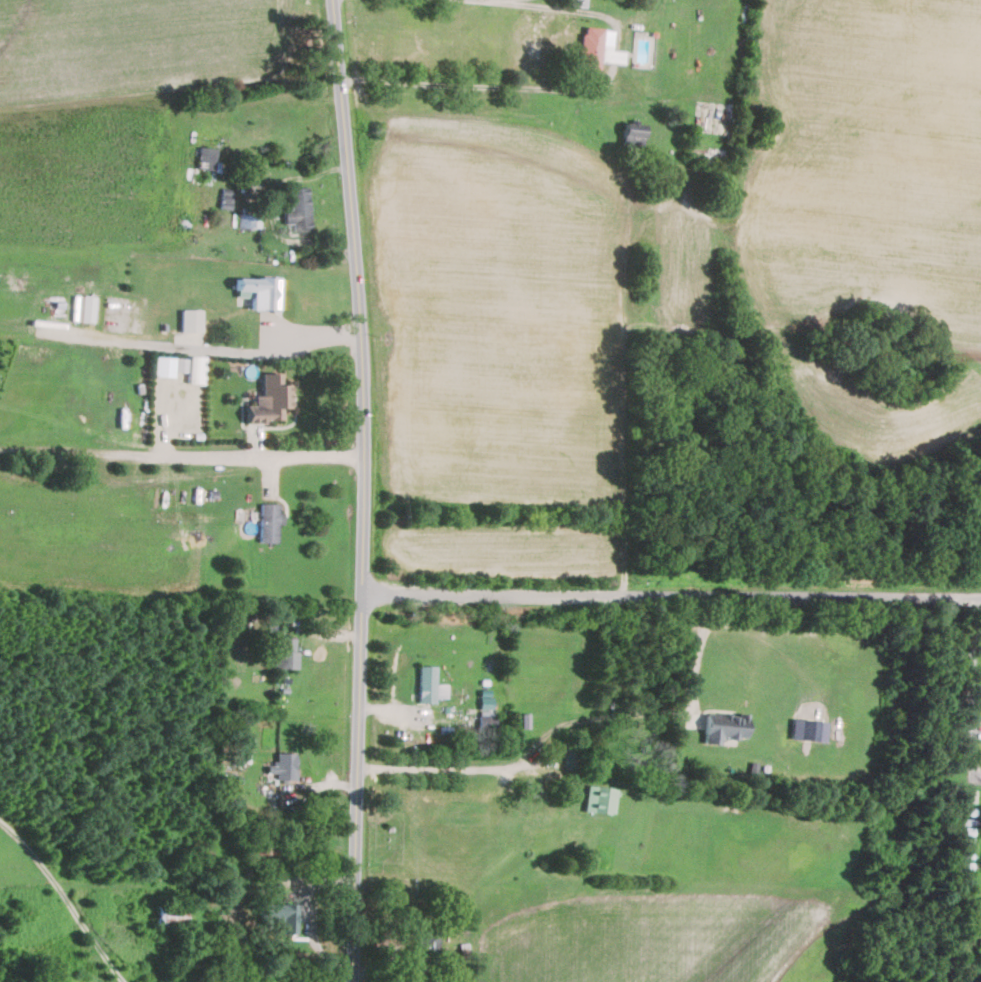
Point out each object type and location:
road: (549, 6)
building: (595, 49)
road: (478, 86)
building: (633, 134)
building: (206, 157)
building: (296, 210)
building: (247, 221)
building: (254, 294)
building: (191, 320)
building: (169, 366)
building: (196, 369)
building: (267, 401)
road: (182, 455)
building: (77, 470)
road: (364, 490)
building: (268, 523)
road: (672, 590)
road: (975, 651)
building: (285, 652)
building: (425, 683)
road: (653, 712)
building: (486, 722)
building: (722, 727)
building: (808, 730)
building: (568, 757)
building: (281, 767)
road: (456, 767)
building: (595, 799)
building: (258, 844)
road: (66, 895)
building: (278, 915)
road: (308, 915)
building: (167, 916)
building: (426, 941)

